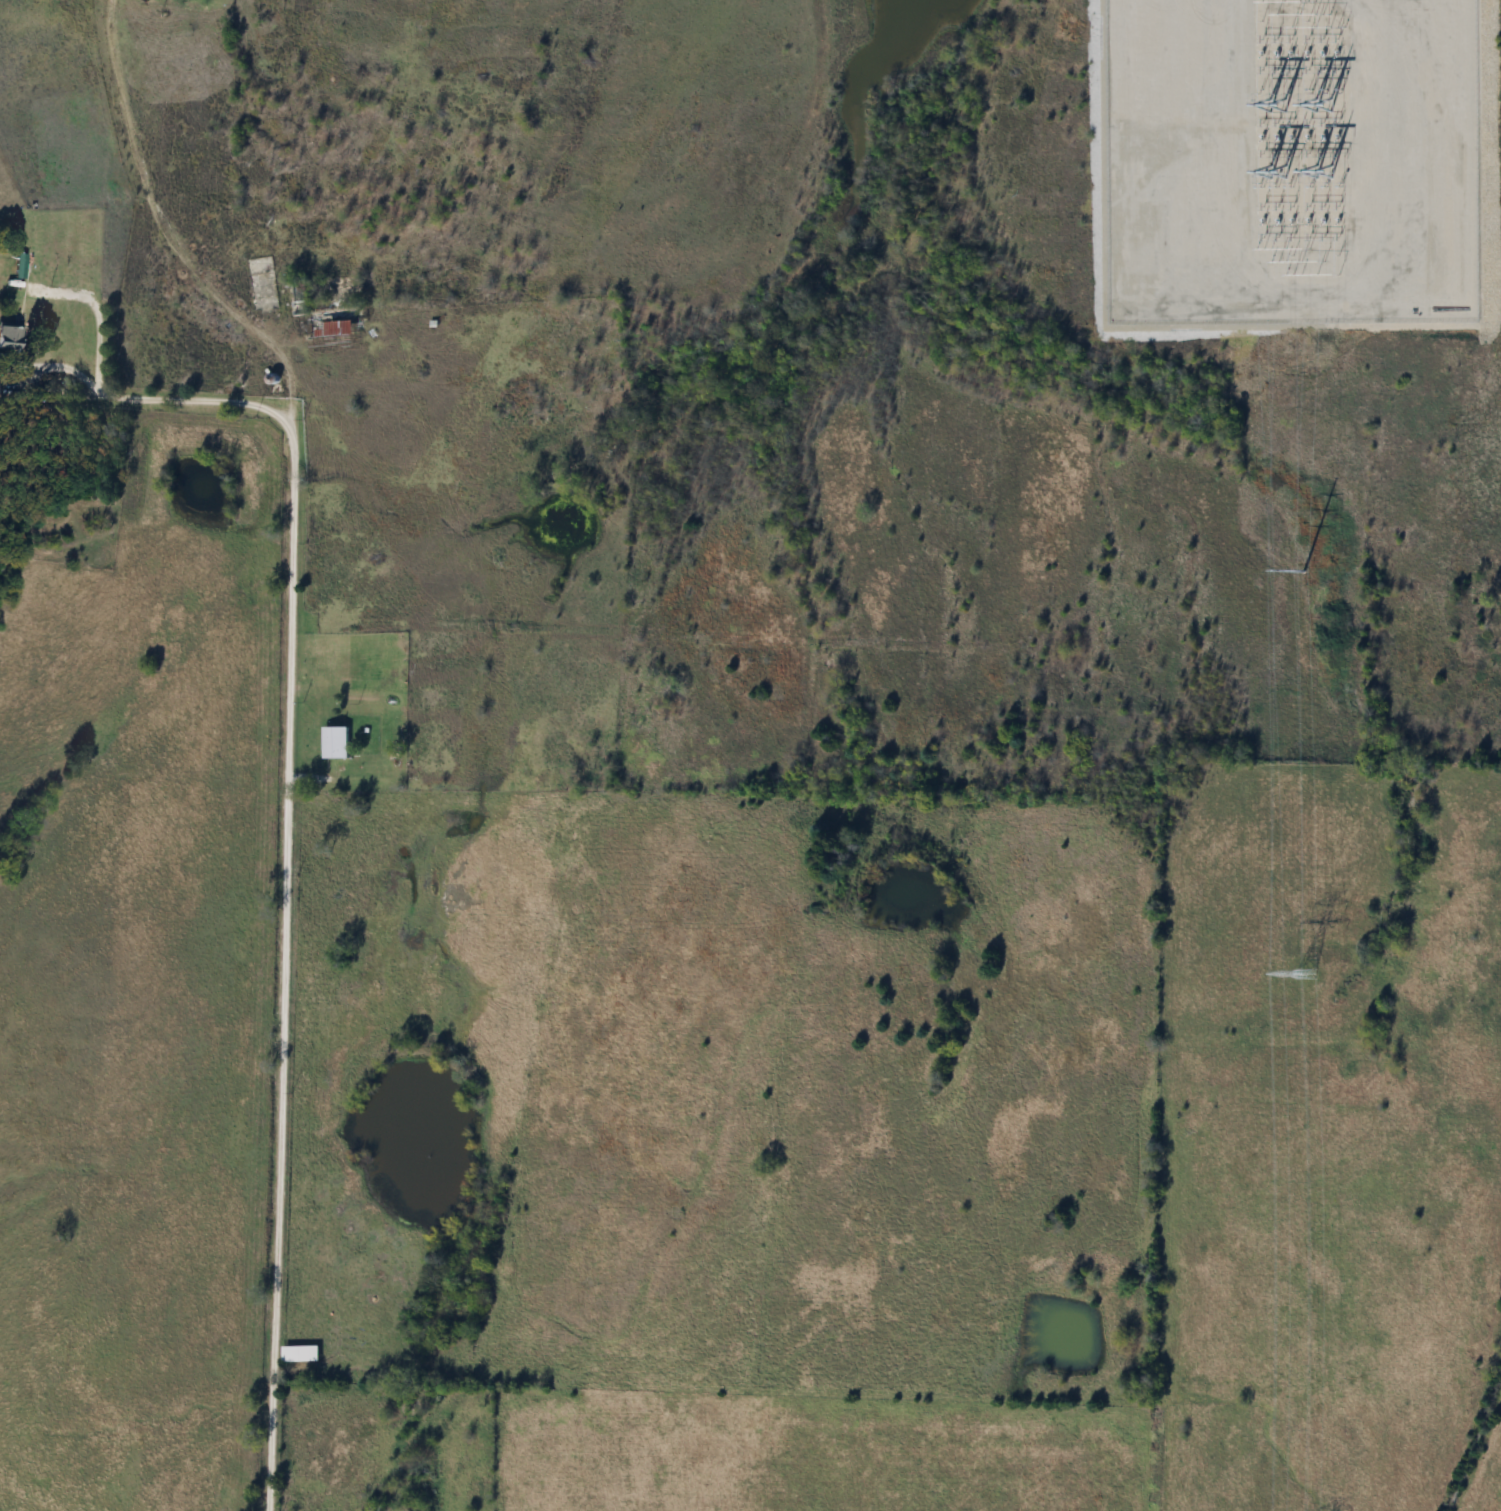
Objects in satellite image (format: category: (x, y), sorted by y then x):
power tower: (1274, 103)
power tower: (1323, 103)
power substation: (1291, 161)
power tower: (1275, 176)
power tower: (1324, 176)
building: (331, 322)
building: (7, 338)
road: (160, 398)
power tower: (1302, 570)
building: (347, 666)
road: (288, 727)
power tower: (1303, 977)
railway: (1476, 1435)

